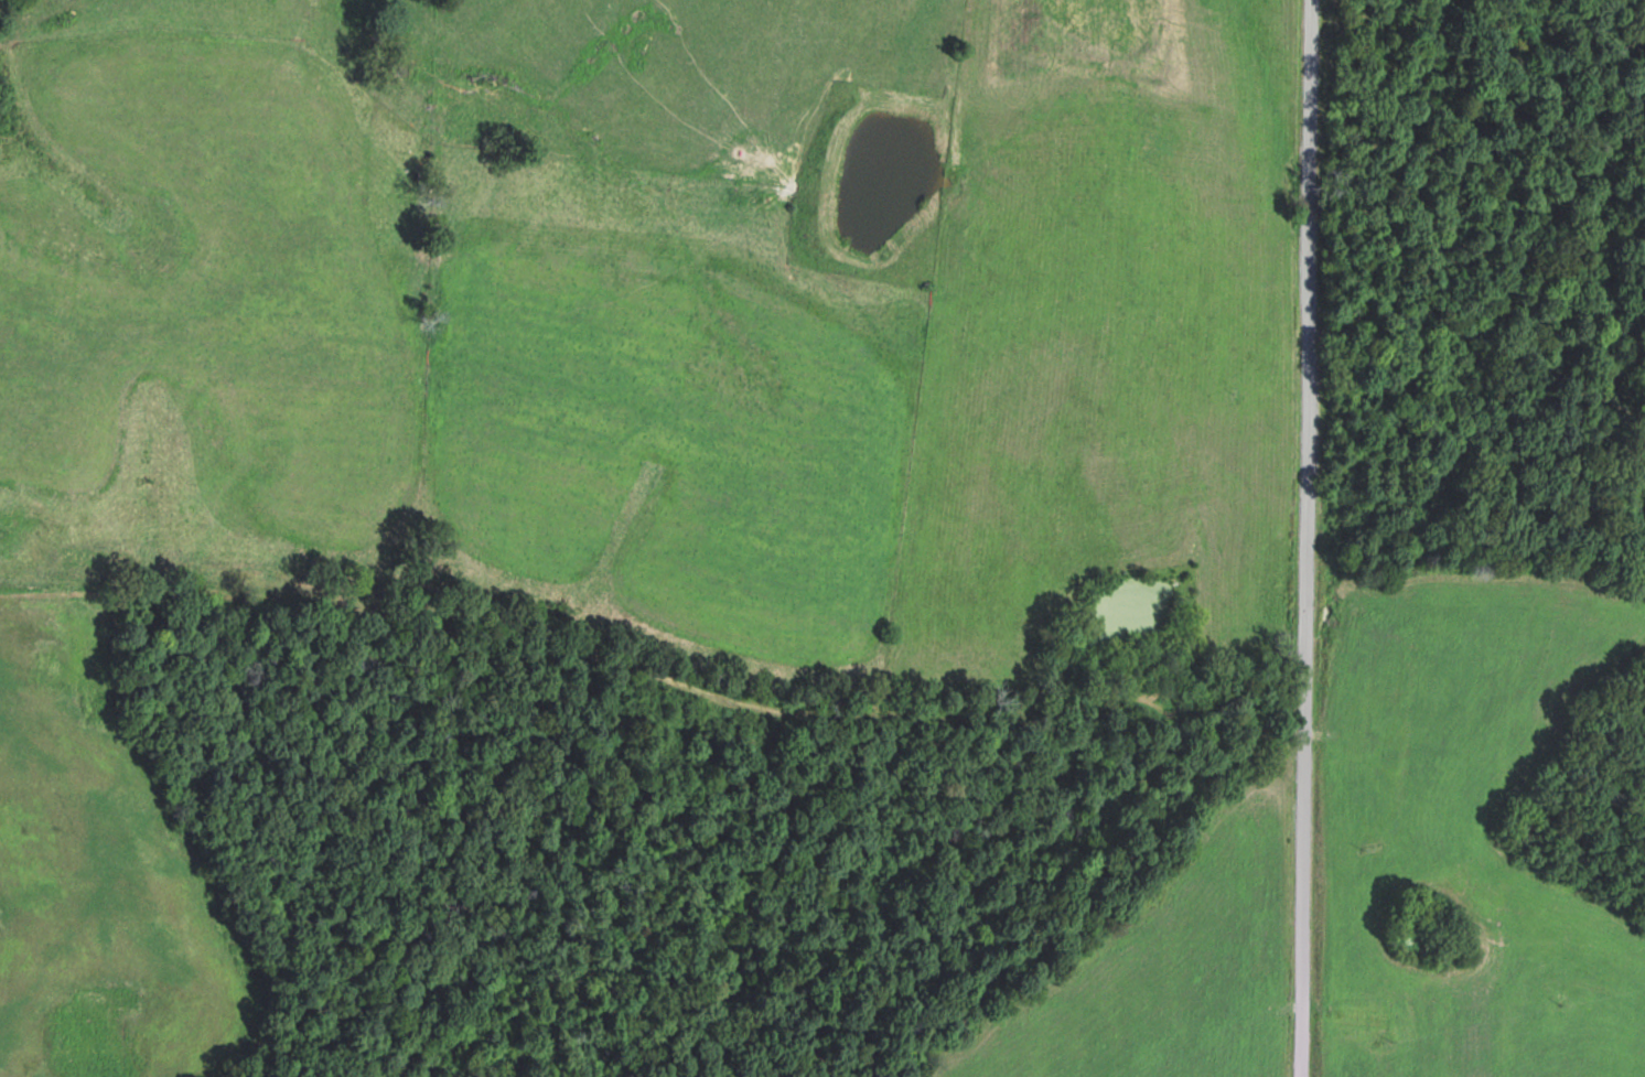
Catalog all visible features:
road: (1298, 538)

